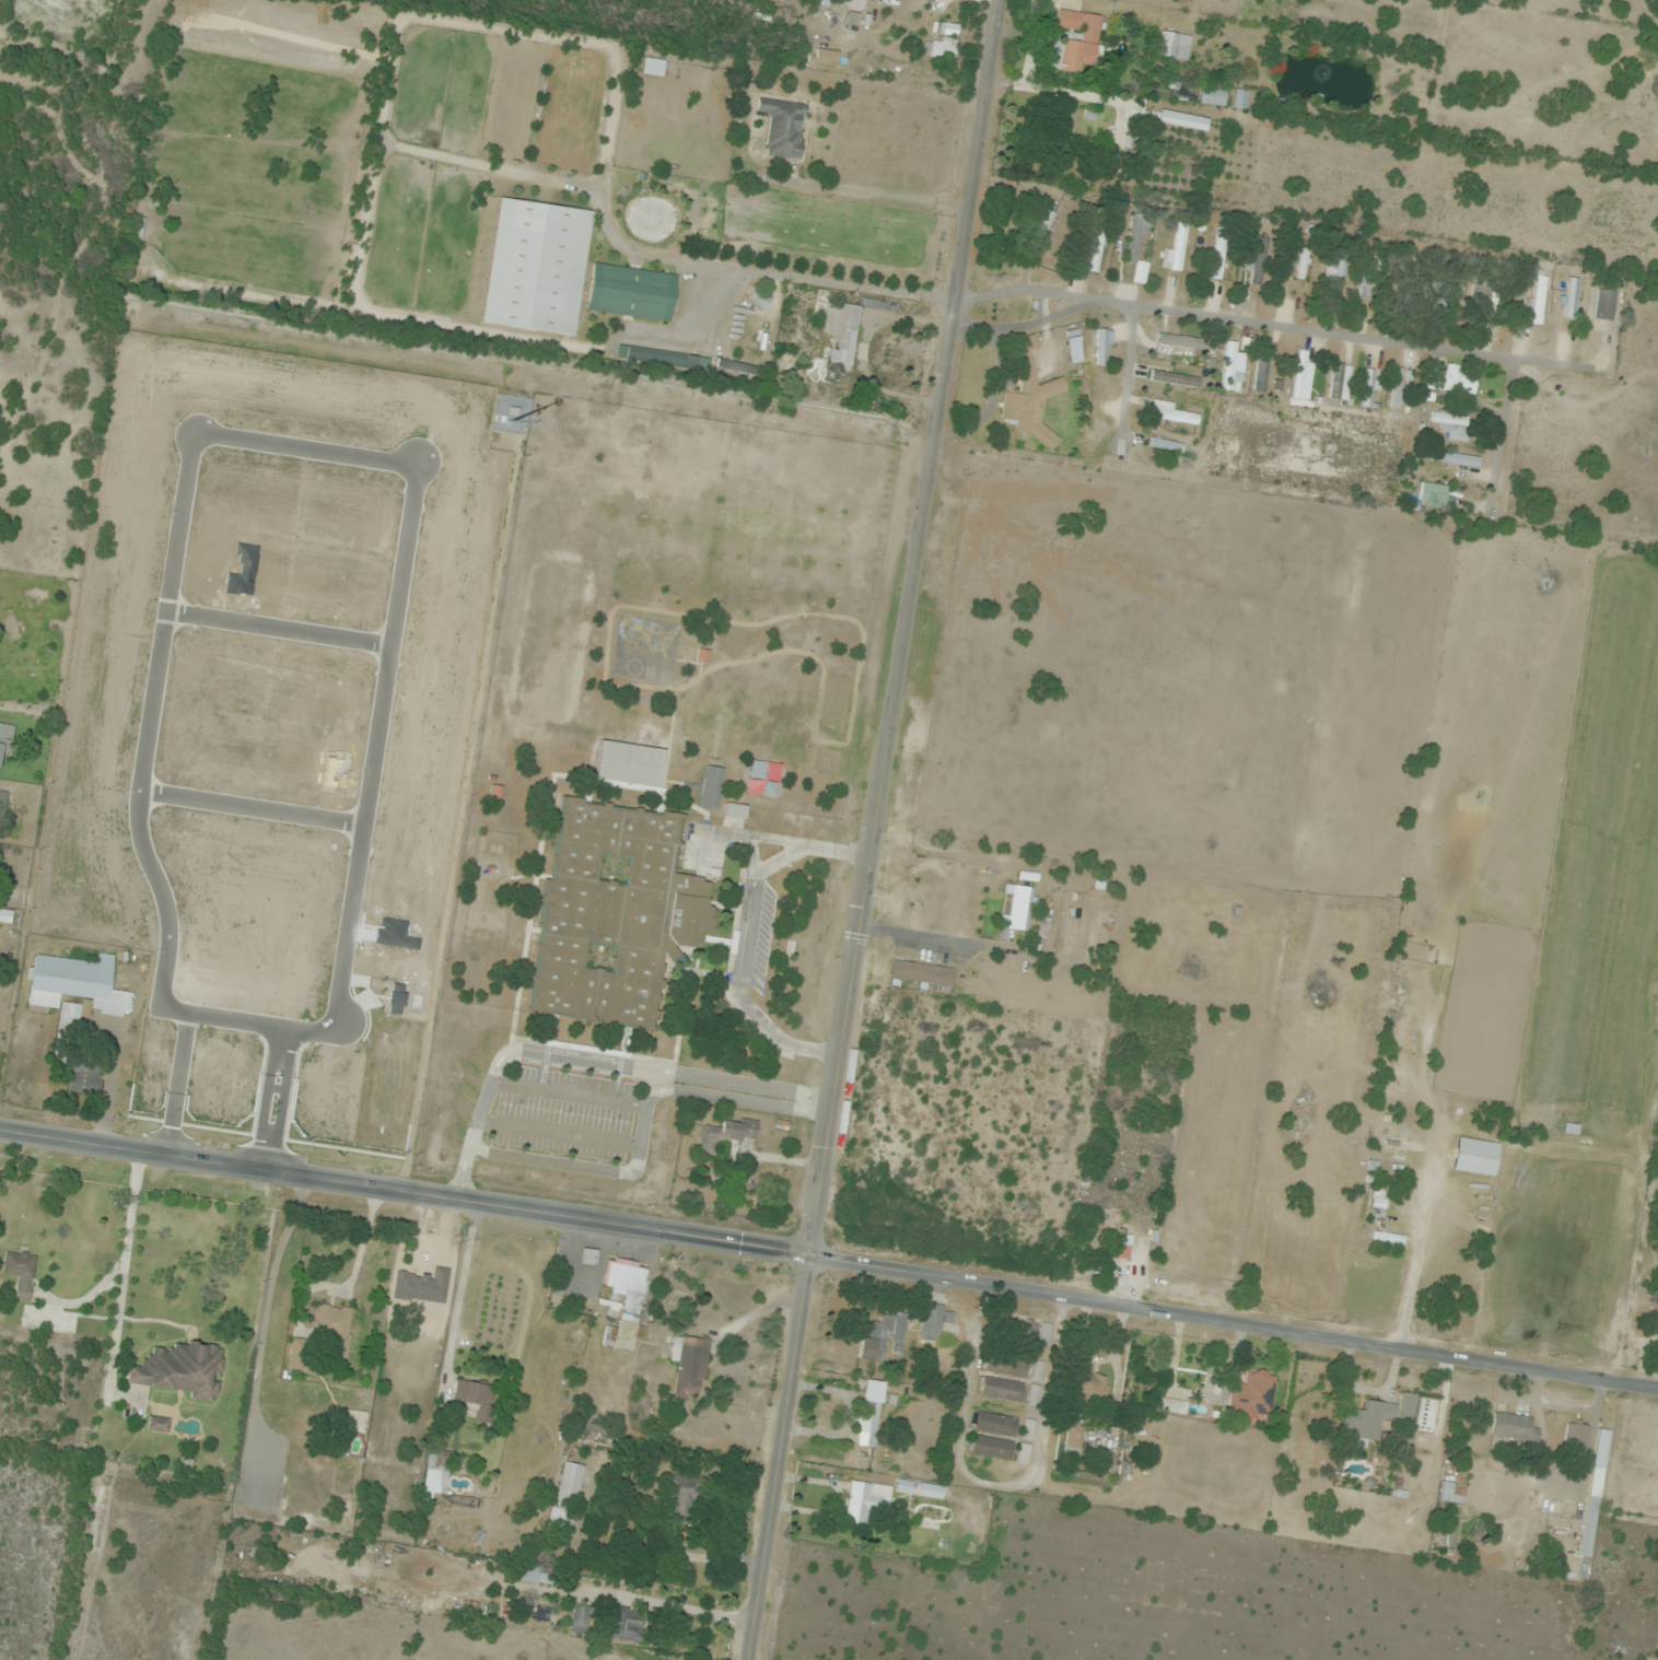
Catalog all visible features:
building: (837, 2)
building: (856, 4)
building: (1075, 42)
building: (945, 44)
building: (1175, 45)
building: (653, 67)
road: (1070, 94)
building: (1214, 96)
building: (1241, 100)
building: (1183, 120)
building: (783, 128)
road: (1124, 139)
building: (1042, 225)
building: (1135, 238)
building: (1095, 250)
building: (1177, 252)
building: (1218, 254)
building: (1258, 261)
building: (536, 267)
building: (1298, 268)
building: (1334, 281)
building: (631, 293)
building: (759, 299)
building: (1572, 299)
building: (1538, 300)
building: (1606, 305)
road: (1275, 326)
building: (840, 341)
building: (1102, 347)
building: (662, 358)
building: (1228, 363)
building: (735, 367)
road: (1128, 371)
building: (1261, 374)
building: (1300, 374)
building: (1175, 378)
building: (1334, 381)
building: (1456, 381)
building: (1398, 386)
building: (1369, 388)
building: (1030, 397)
building: (1170, 413)
building: (1452, 426)
road: (214, 435)
building: (1166, 445)
building: (1457, 459)
building: (1435, 496)
road: (279, 629)
building: (654, 634)
road: (32, 640)
building: (7, 739)
building: (628, 767)
building: (711, 787)
road: (252, 810)
building: (734, 811)
road: (871, 829)
building: (1020, 909)
building: (614, 916)
building: (1051, 922)
building: (1081, 922)
building: (1102, 928)
road: (979, 946)
building: (922, 973)
building: (218, 982)
building: (75, 983)
building: (69, 1024)
building: (185, 1039)
road: (589, 1062)
building: (85, 1080)
road: (180, 1084)
road: (568, 1094)
road: (277, 1099)
building: (1303, 1117)
road: (642, 1126)
road: (558, 1134)
building: (727, 1134)
building: (1474, 1157)
road: (405, 1191)
building: (1377, 1203)
building: (1124, 1244)
building: (437, 1259)
building: (20, 1274)
building: (626, 1301)
road: (1234, 1321)
building: (934, 1322)
building: (335, 1330)
building: (1016, 1330)
building: (883, 1337)
building: (302, 1356)
building: (689, 1367)
building: (1006, 1367)
building: (179, 1369)
building: (1039, 1371)
building: (1002, 1389)
building: (1091, 1391)
building: (471, 1394)
building: (1035, 1395)
building: (1252, 1395)
building: (1172, 1406)
building: (872, 1416)
building: (1375, 1417)
building: (355, 1422)
building: (995, 1424)
building: (157, 1425)
building: (1514, 1428)
building: (1027, 1430)
building: (1575, 1437)
building: (1072, 1445)
building: (991, 1448)
building: (1023, 1454)
building: (436, 1474)
building: (569, 1486)
building: (931, 1492)
building: (1451, 1493)
building: (1593, 1494)
building: (682, 1496)
building: (865, 1501)
building: (559, 1520)
building: (296, 1521)
building: (1451, 1530)
building: (535, 1575)
building: (470, 1608)
building: (580, 1618)
building: (627, 1624)

